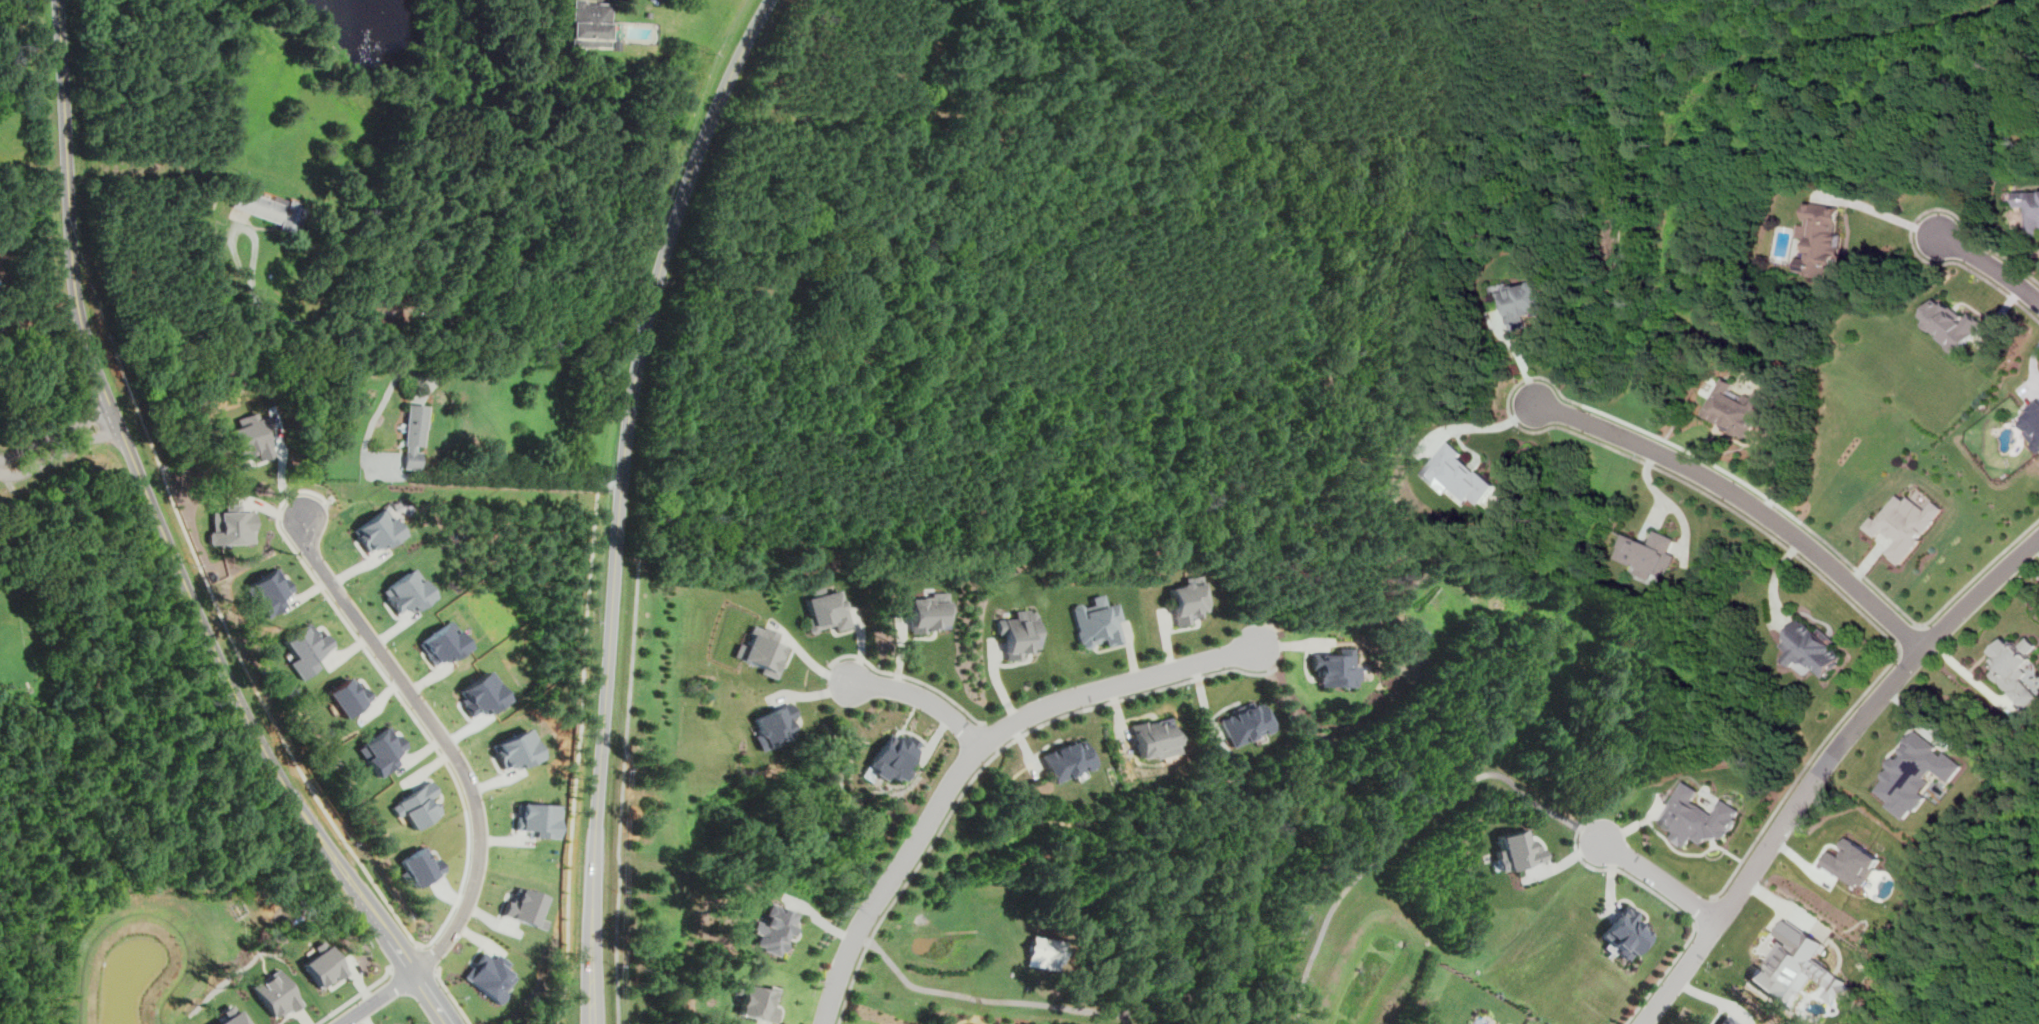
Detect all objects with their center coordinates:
building: (648, 13)
building: (590, 23)
building: (615, 45)
building: (271, 207)
building: (2031, 207)
road: (1887, 214)
road: (1912, 230)
building: (1822, 240)
road: (2018, 240)
road: (1990, 267)
road: (719, 281)
building: (808, 290)
building: (1525, 303)
building: (383, 310)
building: (12, 324)
building: (1951, 325)
road: (374, 326)
road: (1517, 357)
road: (427, 384)
building: (1739, 408)
building: (2032, 423)
road: (1553, 425)
road: (57, 433)
building: (252, 435)
building: (414, 436)
road: (60, 453)
building: (329, 456)
road: (425, 474)
building: (1462, 477)
road: (618, 498)
road: (1745, 500)
building: (1902, 524)
building: (232, 526)
road: (26, 530)
building: (378, 531)
building: (1886, 539)
road: (169, 541)
building: (1649, 554)
building: (269, 592)
building: (407, 592)
building: (1187, 599)
building: (827, 610)
building: (928, 610)
building: (1097, 620)
road: (1920, 625)
building: (1019, 633)
road: (1911, 638)
park: (97, 643)
building: (445, 643)
building: (1810, 647)
road: (1900, 648)
road: (1923, 648)
building: (305, 649)
building: (765, 651)
road: (1265, 656)
road: (88, 667)
building: (1335, 668)
building: (2014, 669)
road: (843, 672)
road: (911, 676)
building: (482, 695)
building: (347, 696)
road: (924, 697)
building: (1247, 722)
building: (776, 723)
road: (992, 735)
building: (1156, 738)
road: (1002, 747)
building: (518, 748)
building: (382, 751)
building: (893, 756)
road: (972, 756)
road: (990, 759)
building: (1069, 760)
building: (1918, 770)
road: (466, 779)
road: (623, 788)
building: (417, 805)
building: (539, 818)
building: (1693, 818)
road: (1592, 834)
road: (1399, 837)
building: (1510, 851)
building: (1854, 862)
building: (421, 865)
road: (1659, 879)
road: (1731, 897)
road: (1675, 907)
road: (1783, 907)
building: (526, 908)
road: (1705, 911)
road: (1695, 925)
building: (775, 928)
building: (1621, 933)
road: (860, 936)
road: (866, 939)
building: (1044, 952)
building: (1793, 964)
building: (323, 965)
building: (490, 976)
building: (276, 994)
building: (760, 1002)
road: (1075, 1008)
building: (231, 1017)
road: (1125, 1018)
building: (1724, 1021)

